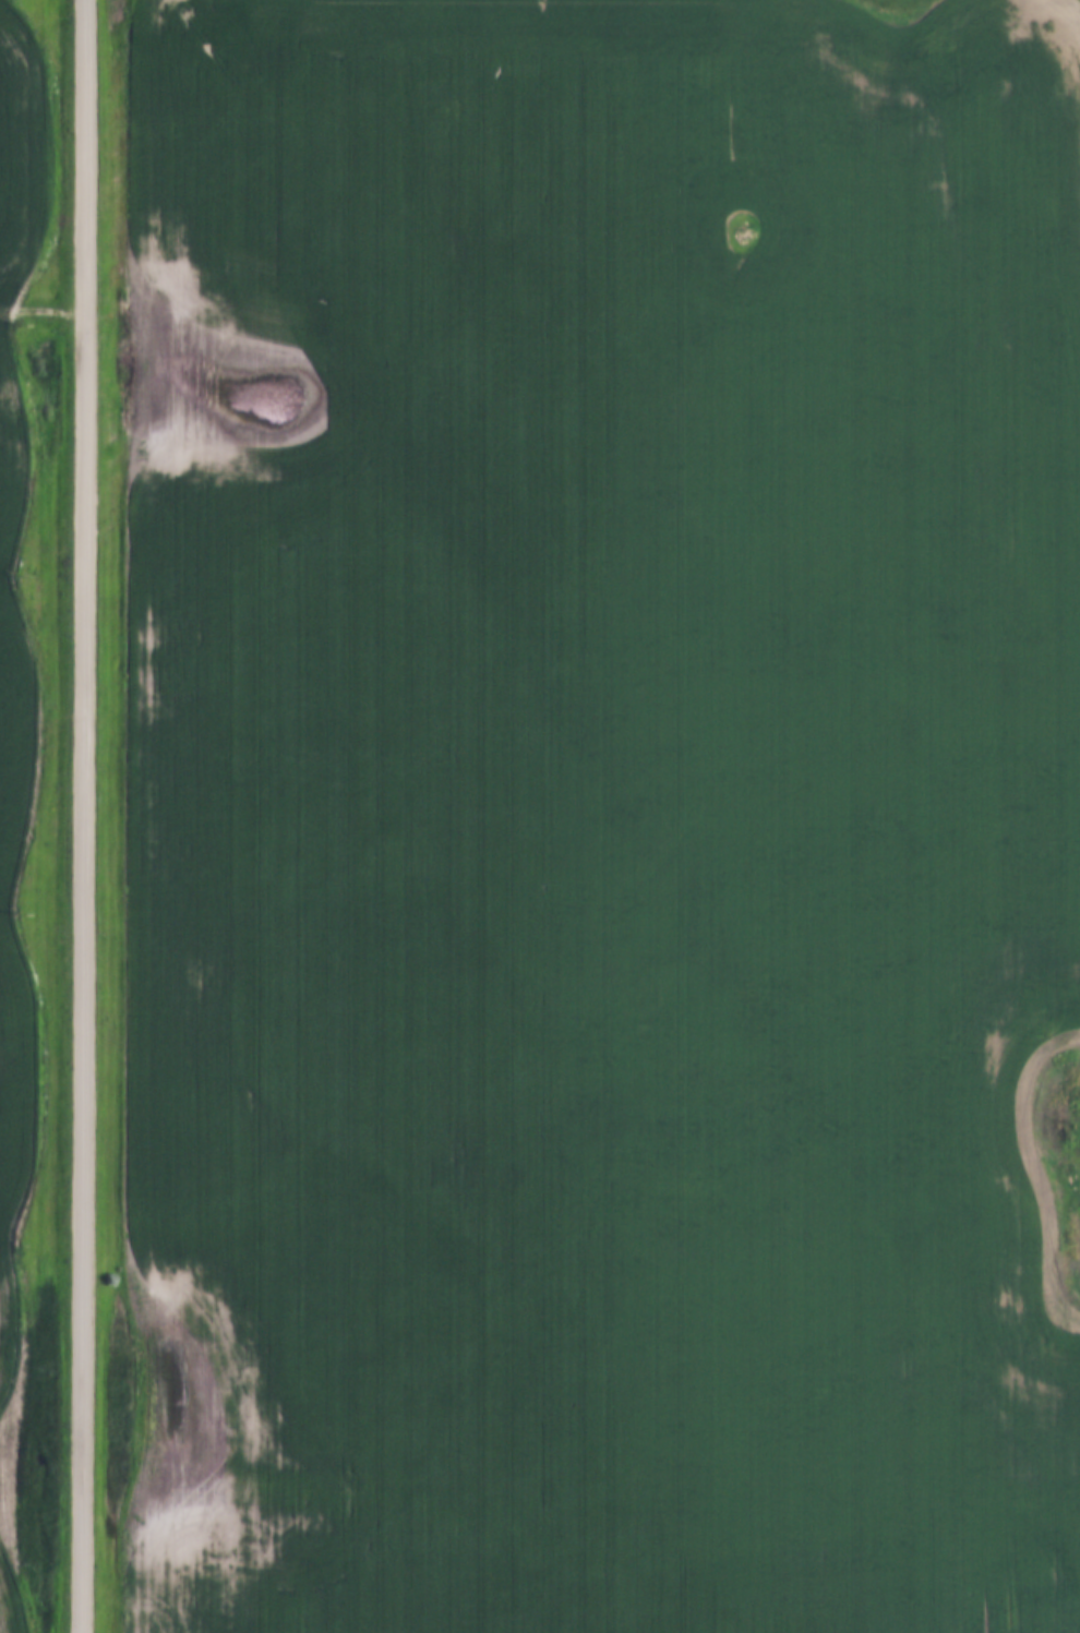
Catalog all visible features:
road: (43, 304)
road: (82, 816)

